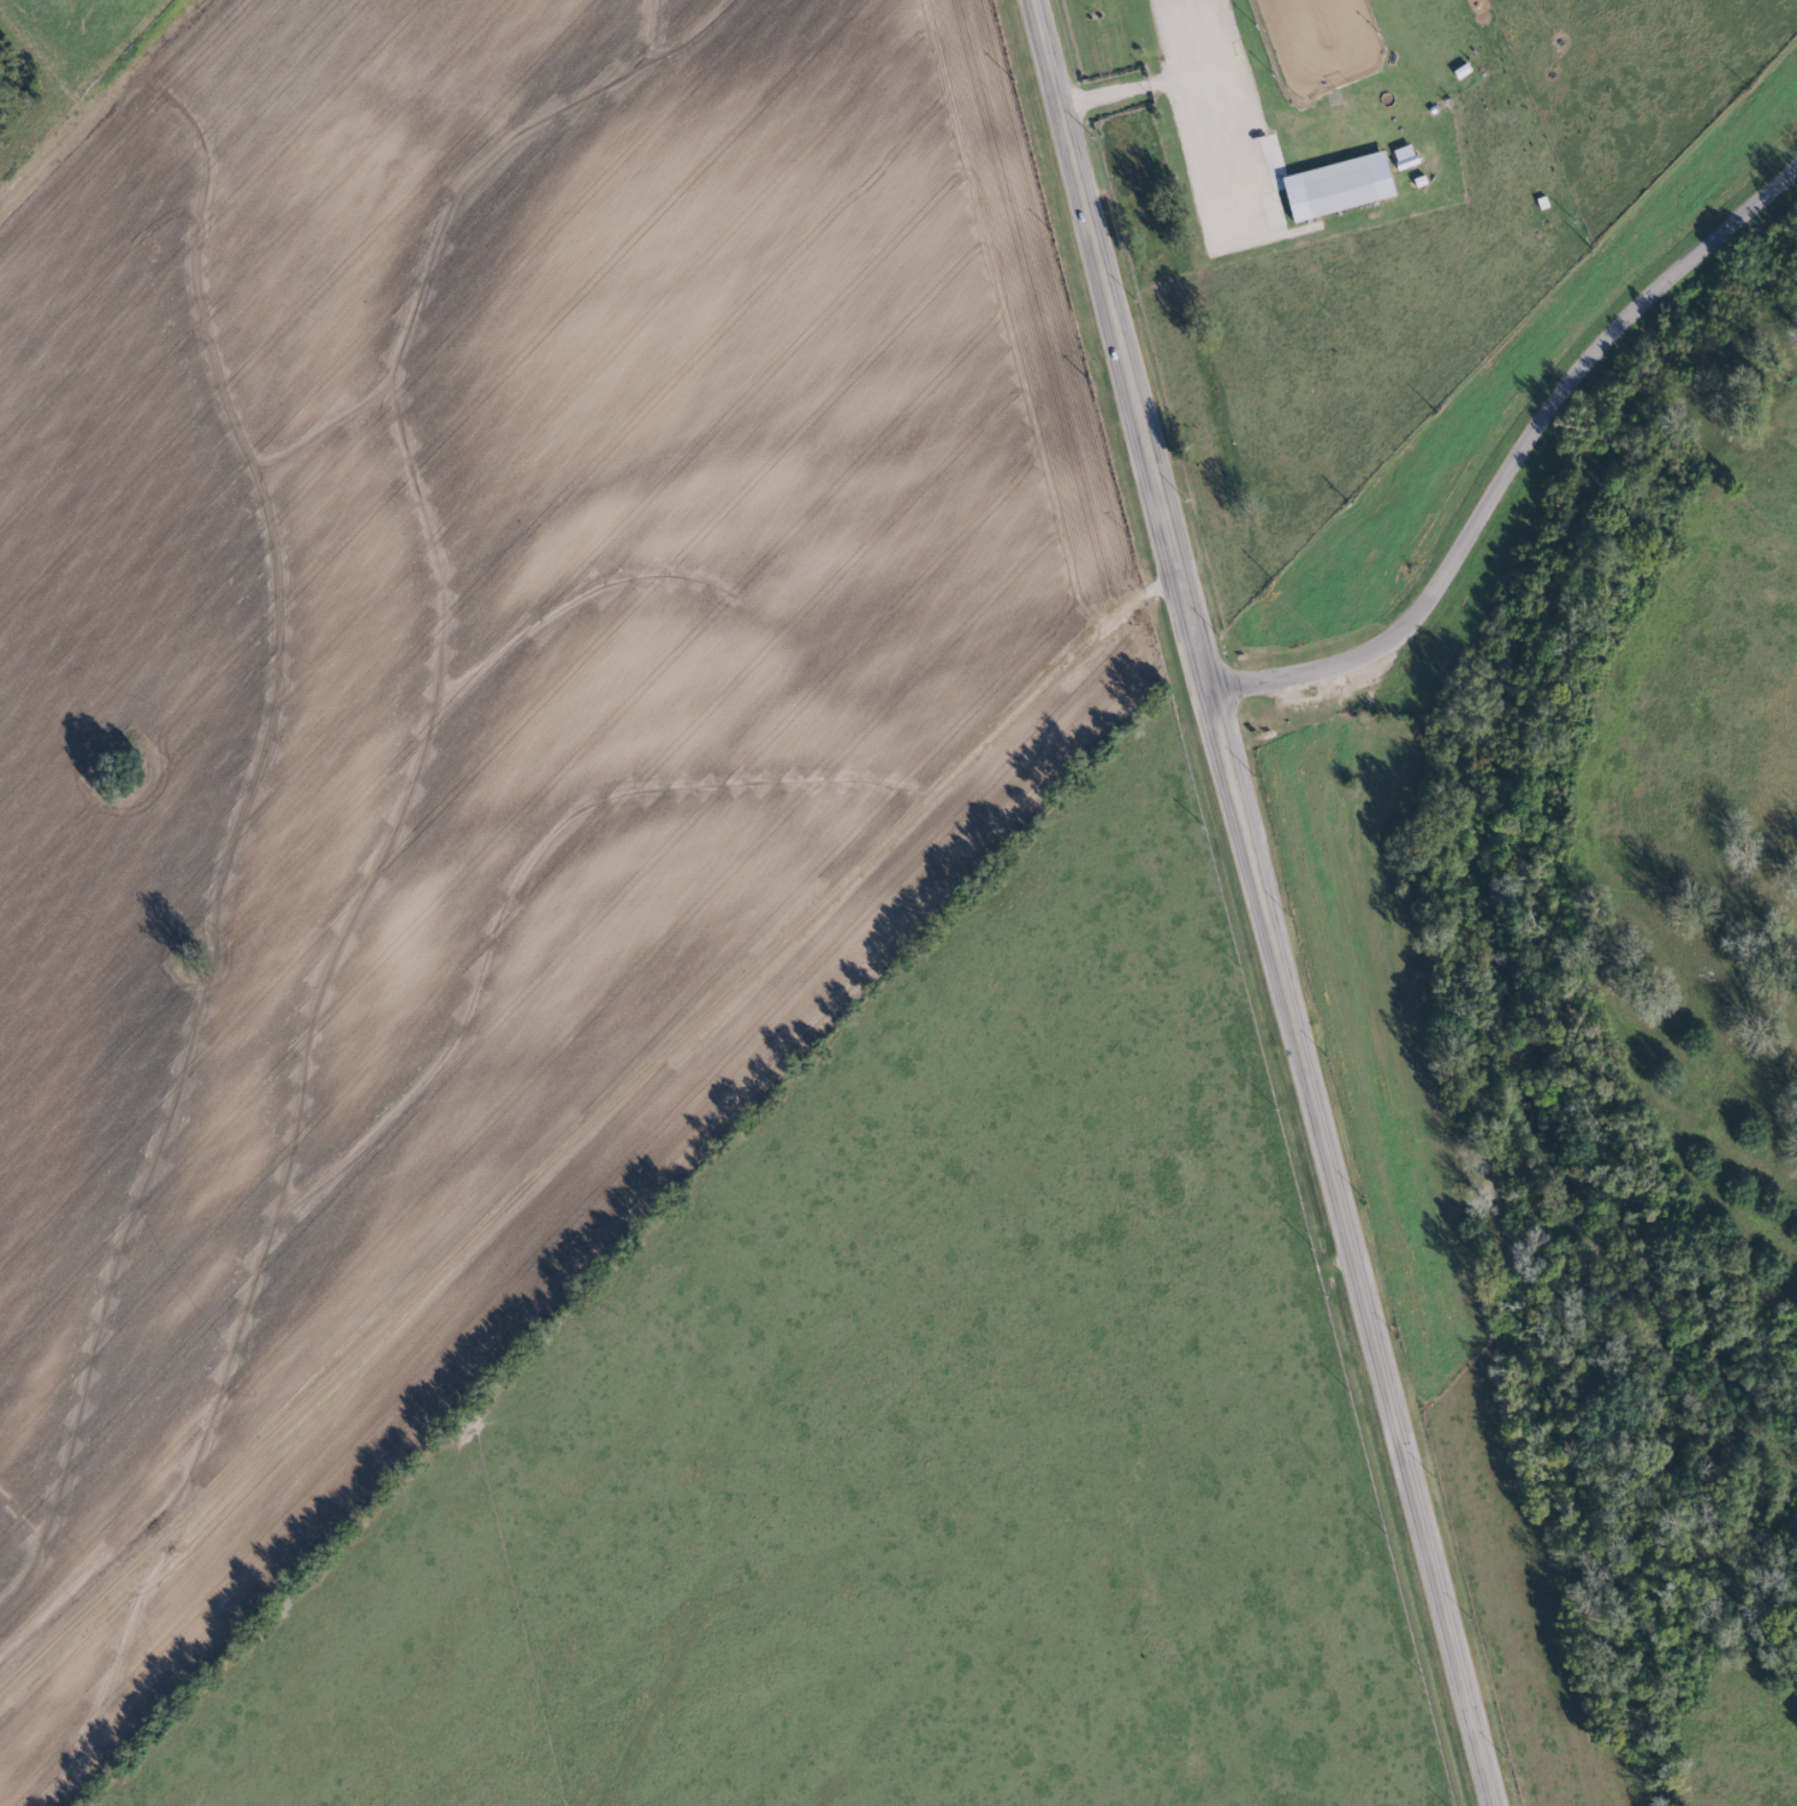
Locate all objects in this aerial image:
road: (1180, 79)
building: (1405, 156)
building: (1339, 186)
road: (1513, 455)
road: (1256, 903)
railway: (1319, 903)
railway: (1359, 903)
road: (631, 1183)

